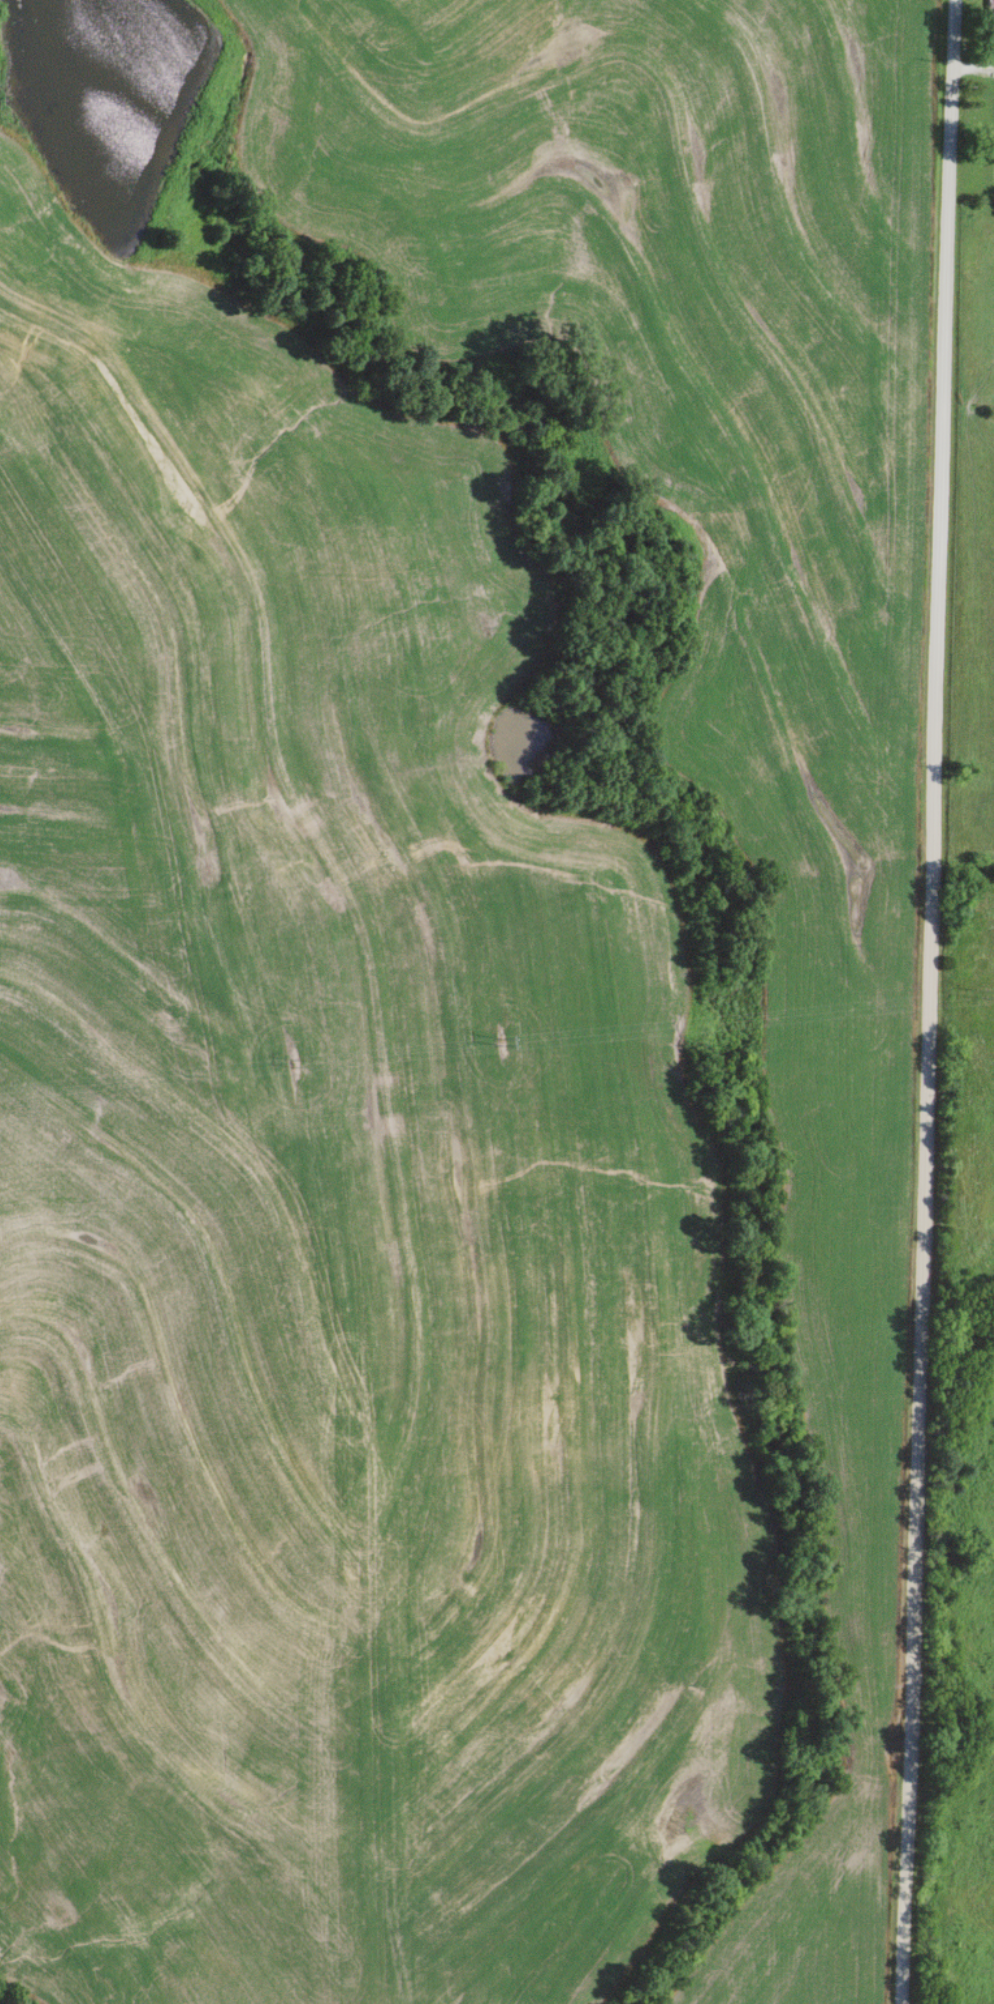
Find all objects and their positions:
building: (990, 14)
power tower: (981, 992)
road: (928, 1001)
power tower: (500, 1040)
power tower: (288, 1062)

